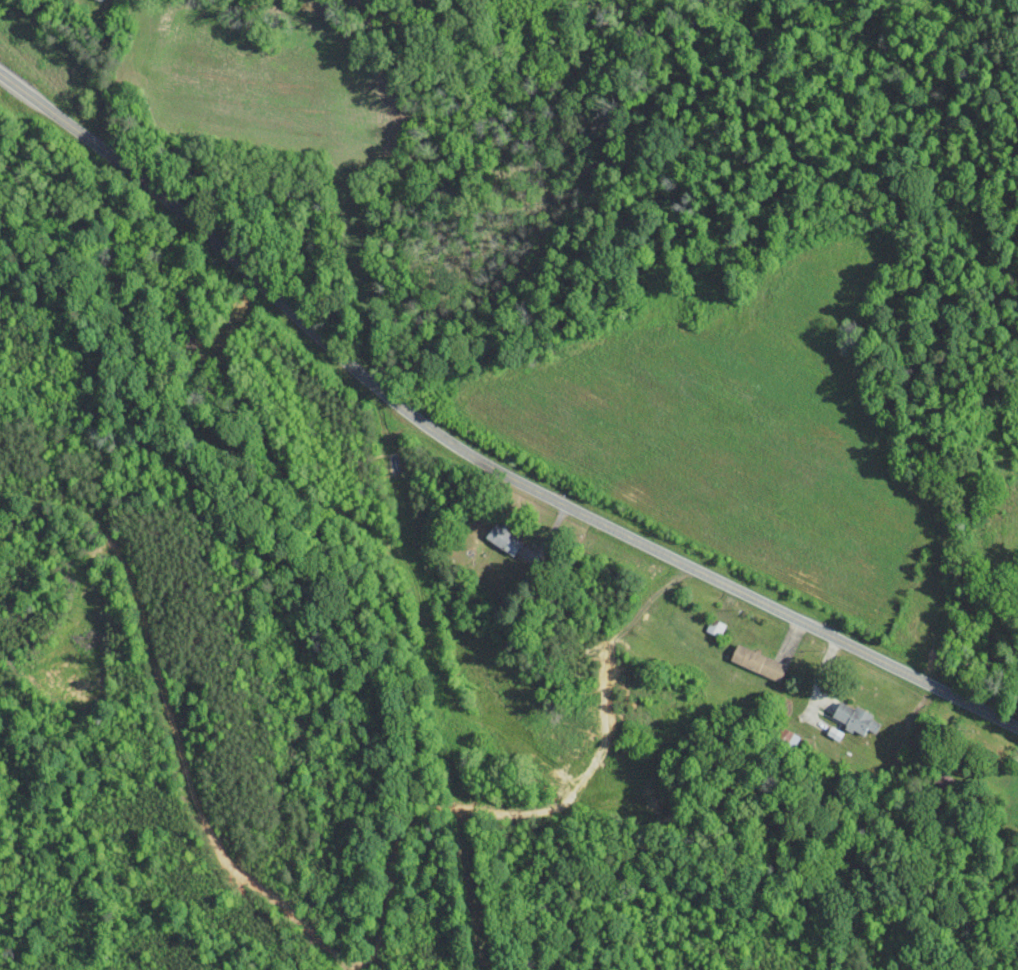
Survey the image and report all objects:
road: (474, 454)
building: (501, 538)
building: (756, 662)
road: (814, 686)
building: (852, 717)

